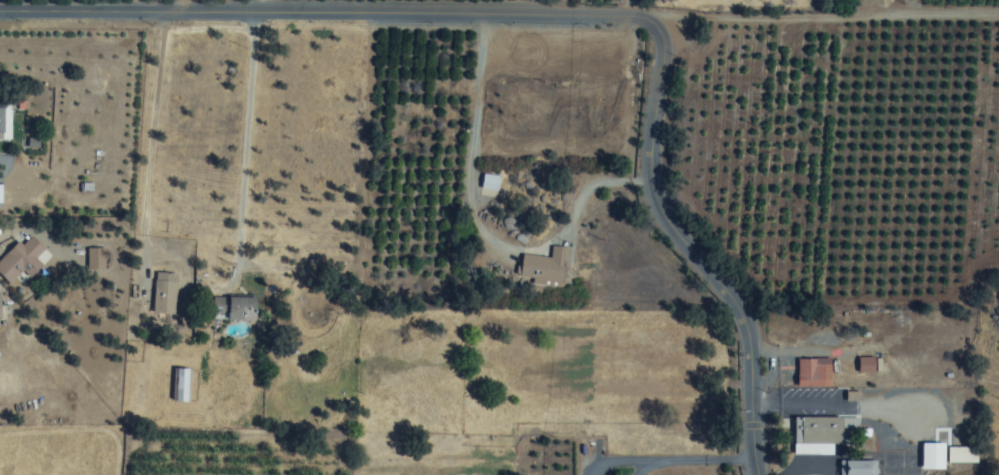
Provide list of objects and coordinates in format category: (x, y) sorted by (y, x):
road: (561, 18)
road: (826, 50)
building: (2, 121)
road: (476, 137)
crop: (565, 138)
road: (246, 148)
building: (489, 182)
building: (23, 259)
building: (546, 266)
building: (164, 293)
building: (236, 307)
building: (0, 316)
building: (866, 365)
building: (805, 373)
building: (180, 385)
building: (818, 433)
building: (961, 454)
building: (855, 467)

